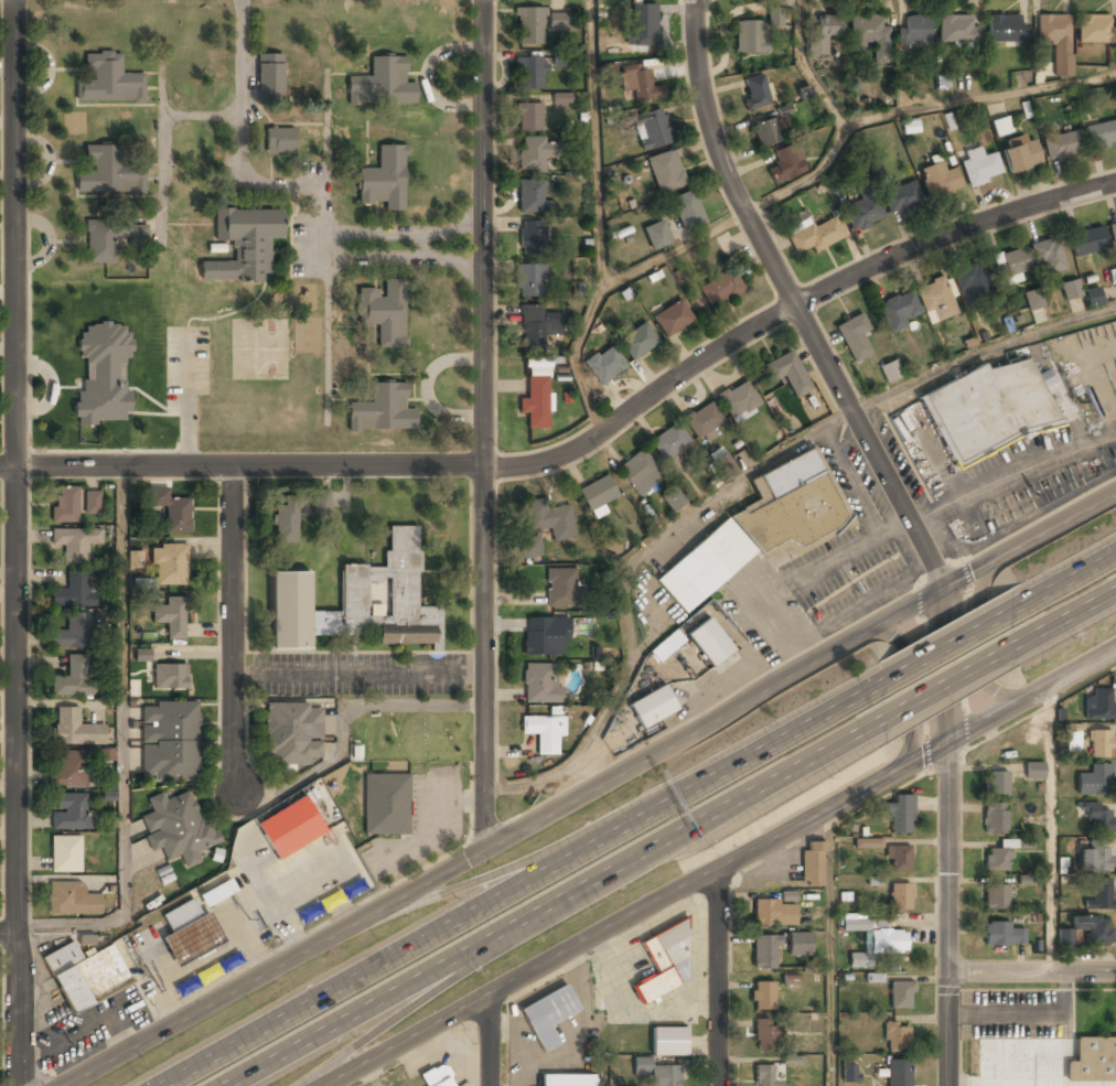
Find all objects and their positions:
building: (774, 18)
building: (559, 21)
building: (644, 25)
building: (529, 26)
building: (1006, 29)
building: (1095, 29)
building: (916, 30)
building: (957, 31)
building: (822, 34)
building: (750, 37)
building: (871, 37)
building: (1056, 41)
building: (529, 74)
building: (269, 78)
building: (108, 80)
building: (383, 83)
building: (640, 85)
building: (755, 93)
building: (561, 98)
road: (978, 99)
building: (528, 119)
road: (840, 126)
building: (1001, 126)
building: (652, 130)
building: (766, 133)
building: (1101, 135)
building: (280, 142)
road: (595, 142)
building: (1062, 147)
building: (533, 154)
building: (1021, 157)
building: (786, 164)
building: (980, 166)
building: (666, 171)
building: (108, 173)
building: (384, 180)
building: (938, 181)
building: (902, 197)
building: (533, 198)
building: (687, 211)
building: (865, 213)
building: (1113, 234)
building: (657, 235)
building: (815, 236)
building: (532, 237)
building: (109, 240)
building: (1088, 243)
building: (243, 246)
building: (1048, 257)
building: (1012, 267)
building: (530, 281)
building: (972, 283)
building: (721, 288)
building: (1071, 289)
road: (600, 290)
building: (1093, 295)
building: (1033, 298)
building: (936, 301)
road: (782, 307)
building: (899, 311)
building: (385, 313)
building: (673, 319)
building: (533, 327)
building: (855, 337)
building: (637, 342)
building: (604, 365)
building: (890, 369)
building: (103, 370)
building: (788, 374)
building: (536, 397)
building: (739, 401)
building: (383, 410)
building: (988, 411)
road: (494, 420)
building: (704, 421)
building: (670, 443)
road: (591, 450)
building: (723, 464)
building: (640, 474)
road: (733, 480)
building: (598, 494)
building: (673, 501)
building: (93, 502)
building: (321, 504)
building: (66, 505)
building: (172, 510)
building: (549, 520)
building: (286, 524)
building: (759, 528)
road: (17, 542)
building: (75, 545)
building: (530, 548)
building: (136, 559)
building: (170, 566)
road: (1067, 577)
building: (144, 583)
building: (560, 589)
building: (74, 593)
building: (360, 602)
road: (1066, 614)
building: (171, 619)
road: (233, 623)
road: (986, 630)
building: (73, 633)
building: (545, 636)
road: (953, 639)
building: (710, 644)
building: (667, 645)
building: (142, 654)
road: (942, 666)
building: (170, 678)
building: (73, 679)
road: (949, 682)
building: (540, 684)
road: (919, 684)
building: (653, 706)
building: (1099, 706)
building: (75, 730)
building: (544, 732)
building: (292, 734)
building: (1073, 740)
road: (121, 743)
building: (169, 743)
building: (1099, 744)
building: (106, 754)
building: (68, 771)
building: (1034, 771)
building: (1095, 781)
building: (997, 785)
road: (588, 789)
building: (386, 805)
building: (69, 814)
building: (900, 815)
building: (995, 819)
building: (1097, 819)
building: (176, 828)
building: (290, 828)
road: (1049, 828)
building: (868, 842)
building: (65, 856)
building: (1002, 856)
building: (899, 859)
building: (1094, 859)
building: (812, 864)
road: (720, 865)
road: (493, 875)
road: (528, 882)
building: (1101, 895)
building: (900, 896)
building: (996, 899)
building: (71, 900)
road: (562, 905)
building: (770, 913)
road: (945, 914)
building: (1094, 929)
road: (9, 934)
building: (189, 934)
building: (1002, 935)
building: (1065, 936)
building: (874, 940)
building: (800, 944)
road: (830, 946)
building: (764, 953)
building: (663, 961)
road: (1030, 972)
building: (208, 975)
building: (85, 976)
road: (461, 976)
road: (718, 977)
building: (901, 994)
building: (763, 998)
building: (548, 1018)
building: (765, 1035)
building: (897, 1035)
road: (490, 1040)
building: (668, 1042)
building: (1092, 1058)
building: (849, 1072)
building: (656, 1073)
building: (899, 1073)
road: (85, 1075)
building: (764, 1076)
building: (436, 1077)
building: (567, 1080)
road: (604, 1080)

